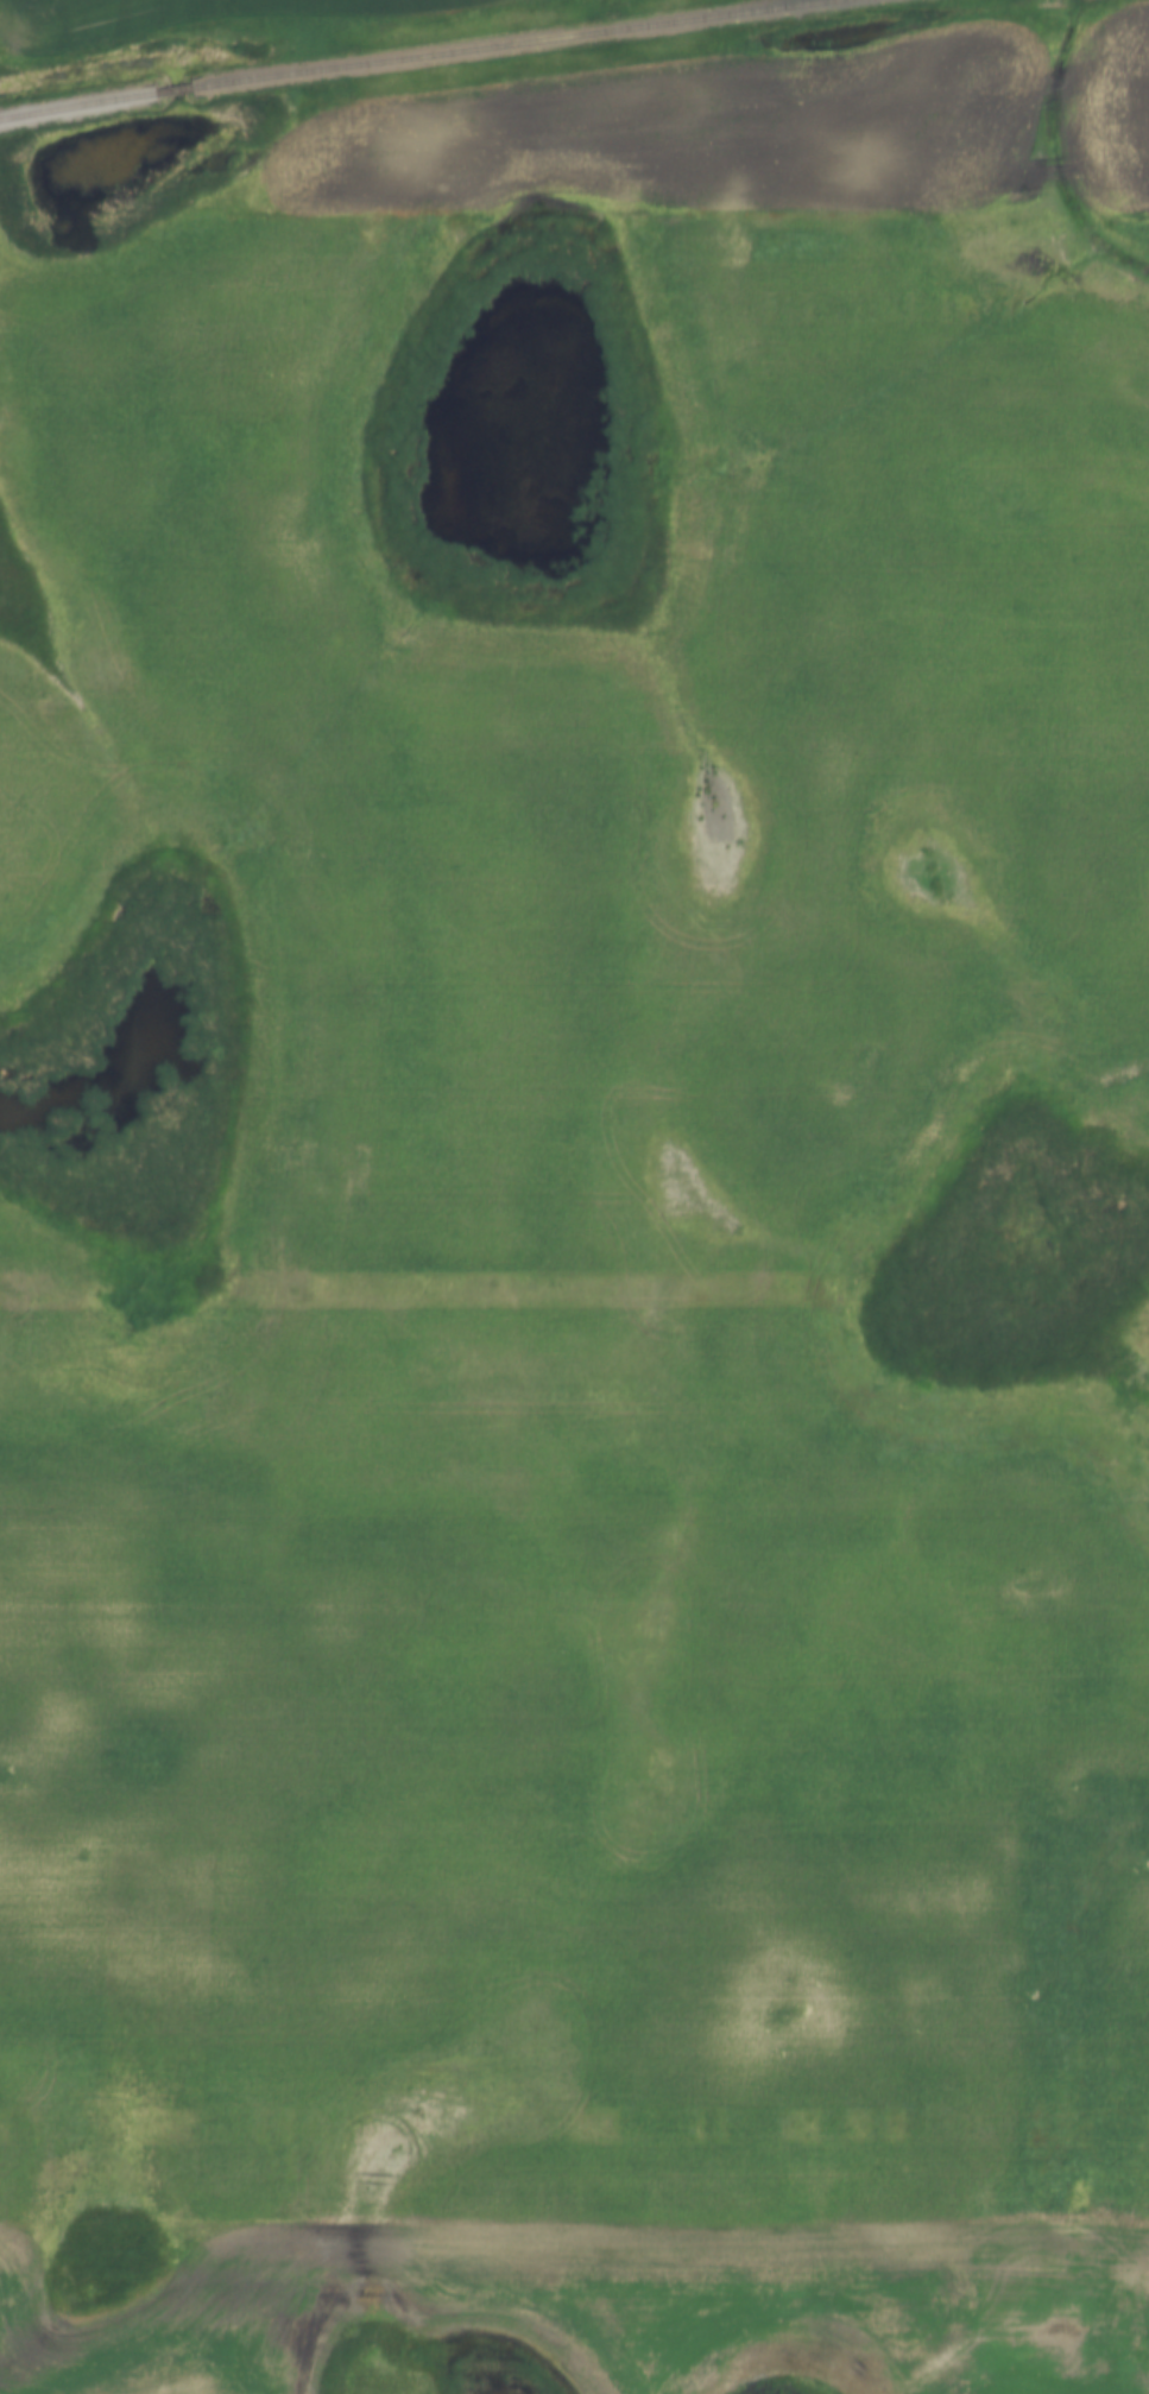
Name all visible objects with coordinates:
railway: (516, 43)
railway: (176, 89)
railway: (77, 106)

